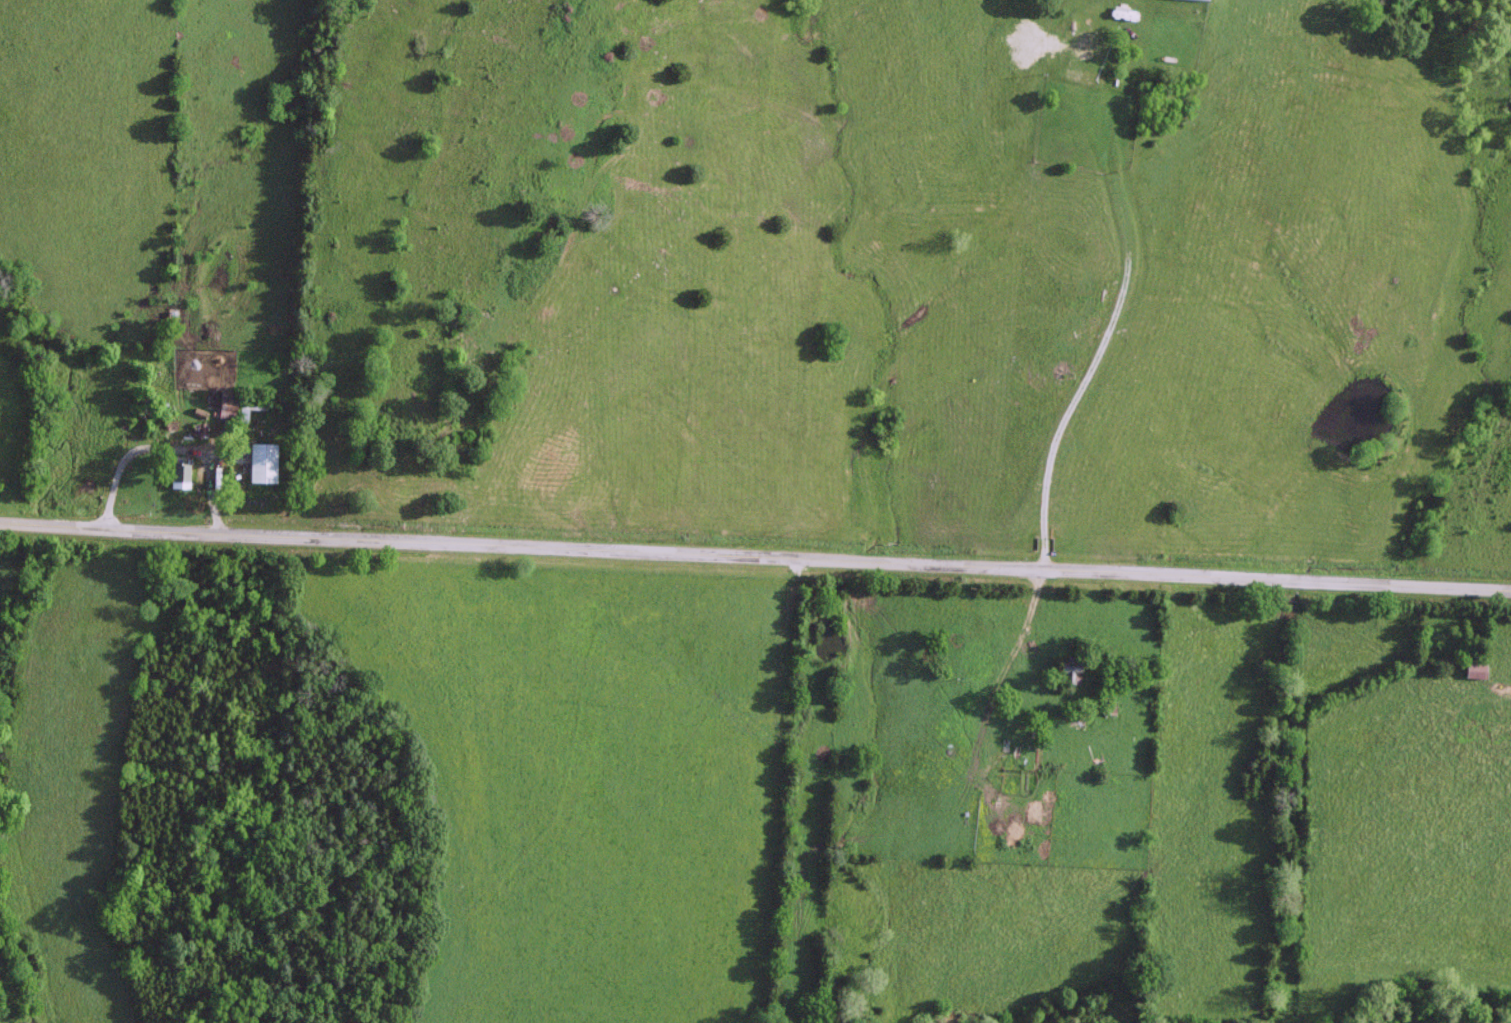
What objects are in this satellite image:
building: (1088, 44)
building: (1083, 76)
road: (1109, 319)
building: (225, 404)
building: (249, 406)
building: (261, 462)
building: (179, 471)
road: (755, 550)
building: (1068, 670)
building: (1026, 756)

